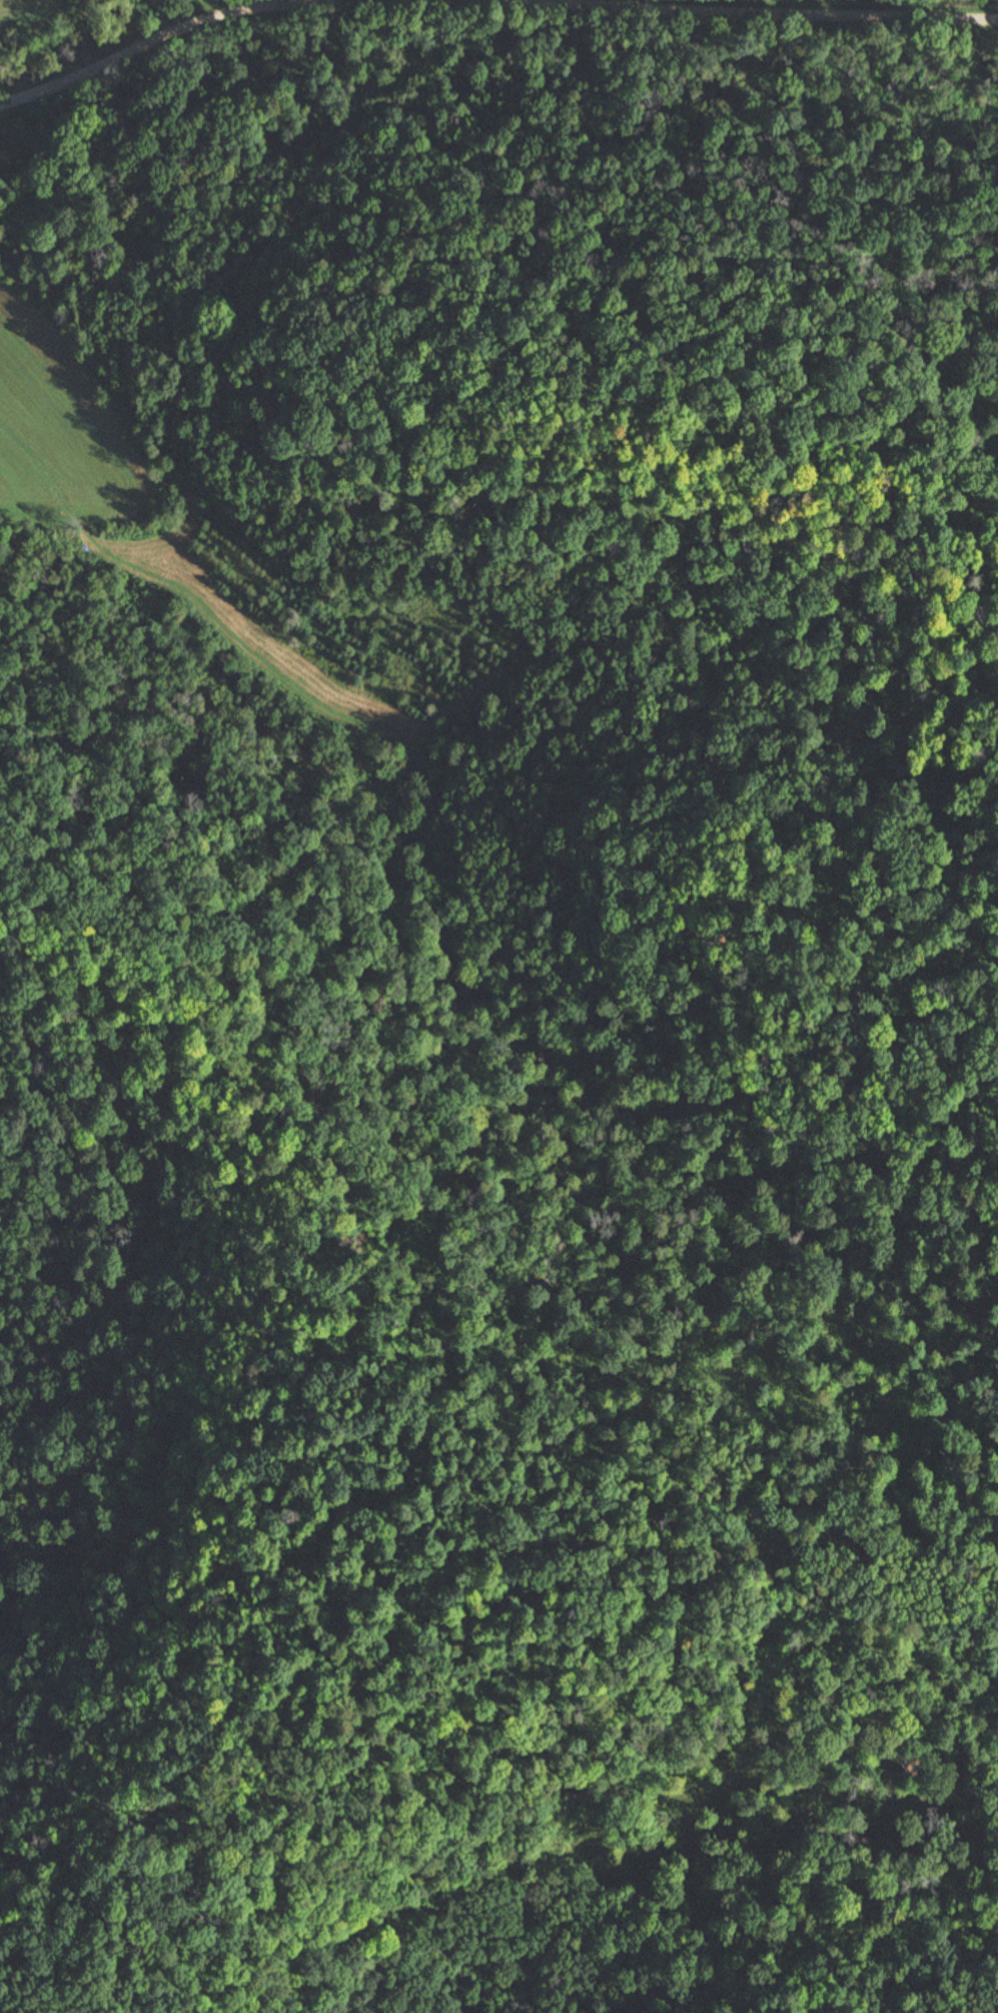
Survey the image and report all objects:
road: (755, 12)
road: (169, 33)

